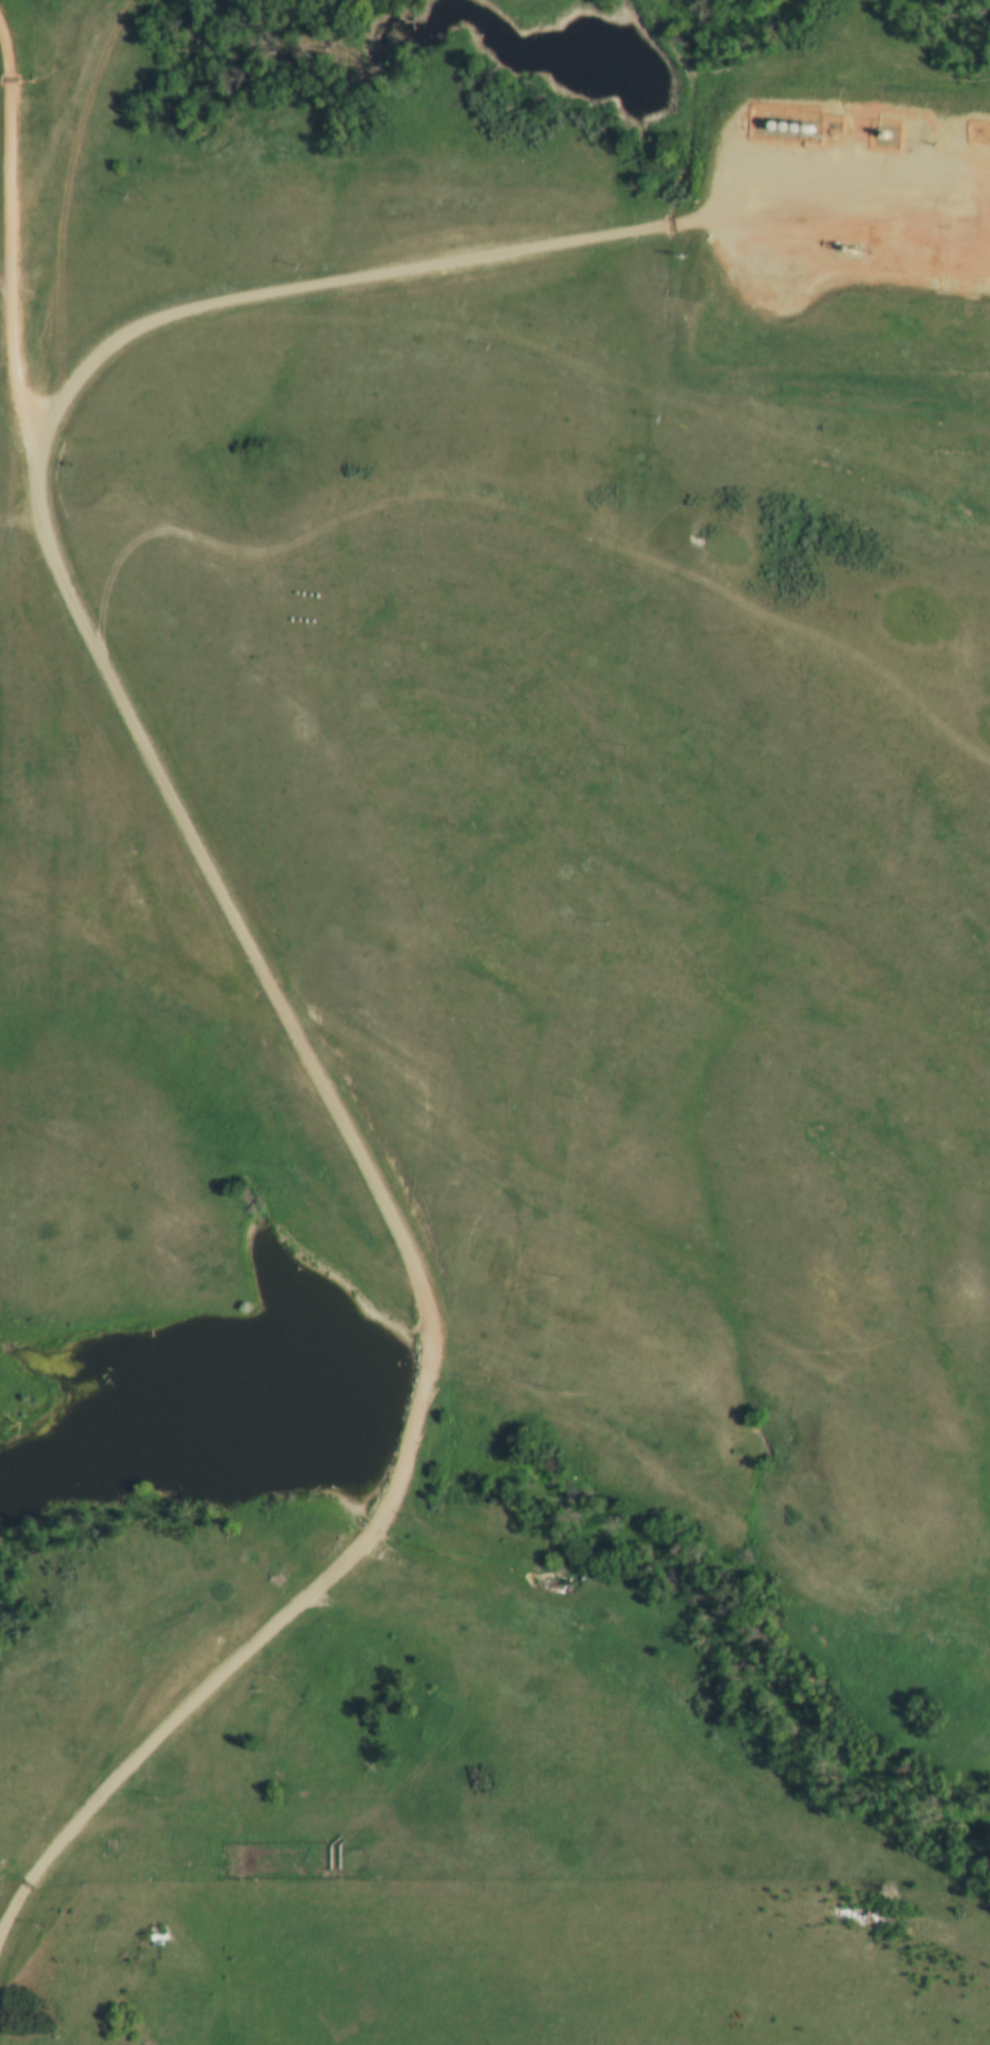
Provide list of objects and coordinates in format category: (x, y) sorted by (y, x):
road: (4, 260)
road: (169, 808)

